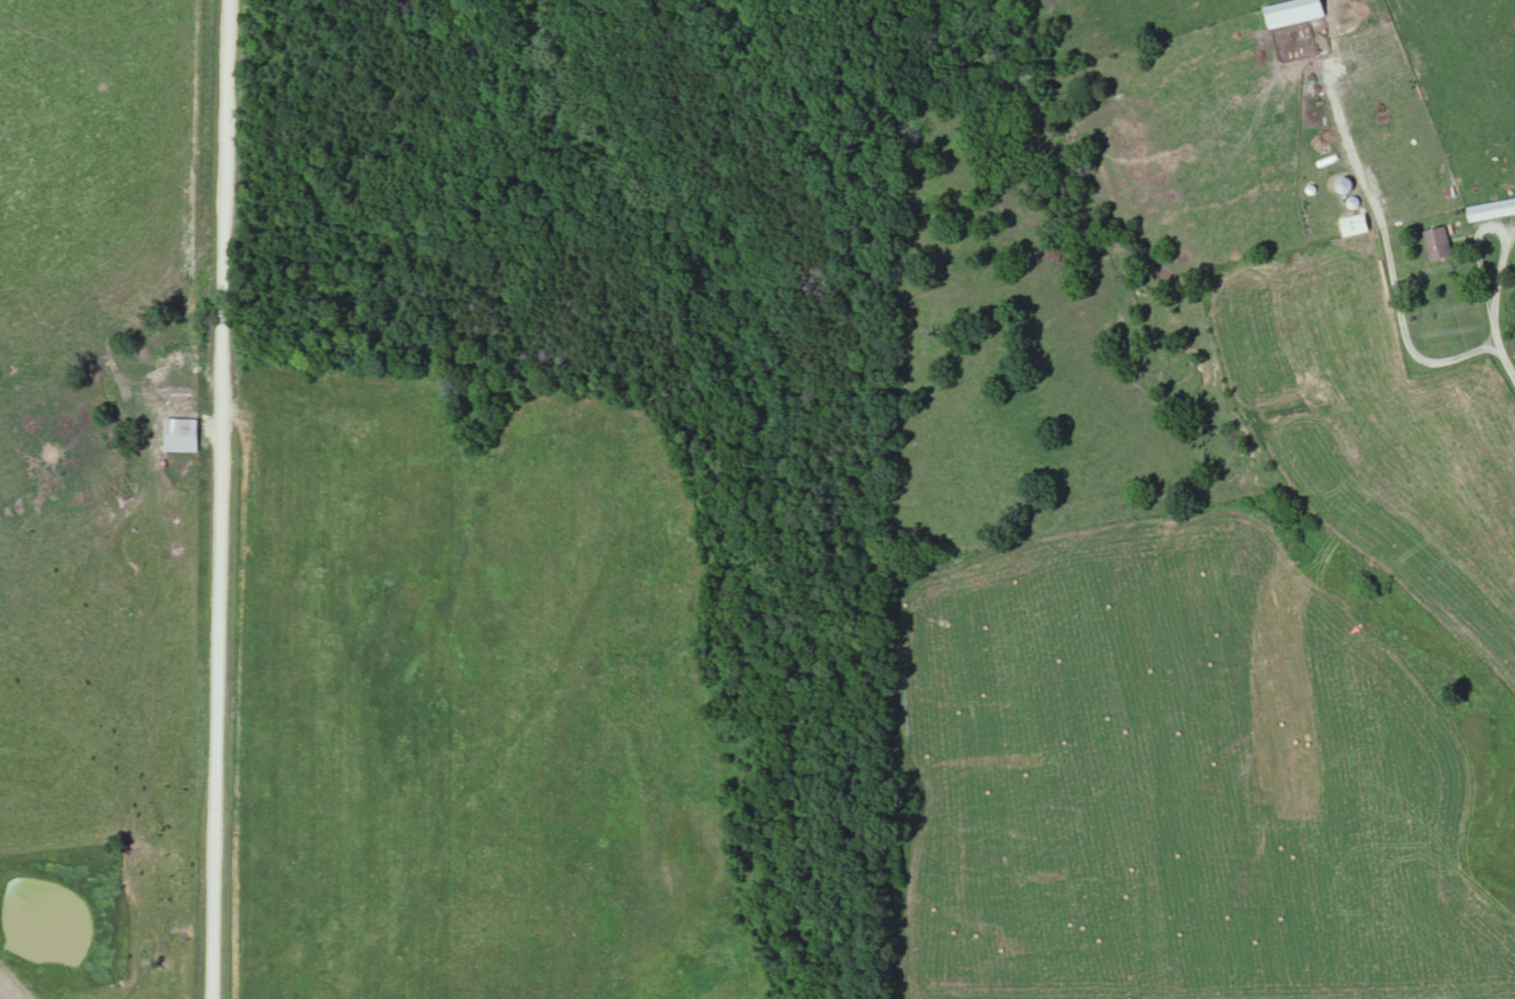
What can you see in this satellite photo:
building: (1295, 11)
building: (1346, 184)
building: (1492, 209)
building: (1356, 224)
building: (1440, 242)
road: (1486, 400)
building: (183, 434)
road: (223, 499)

